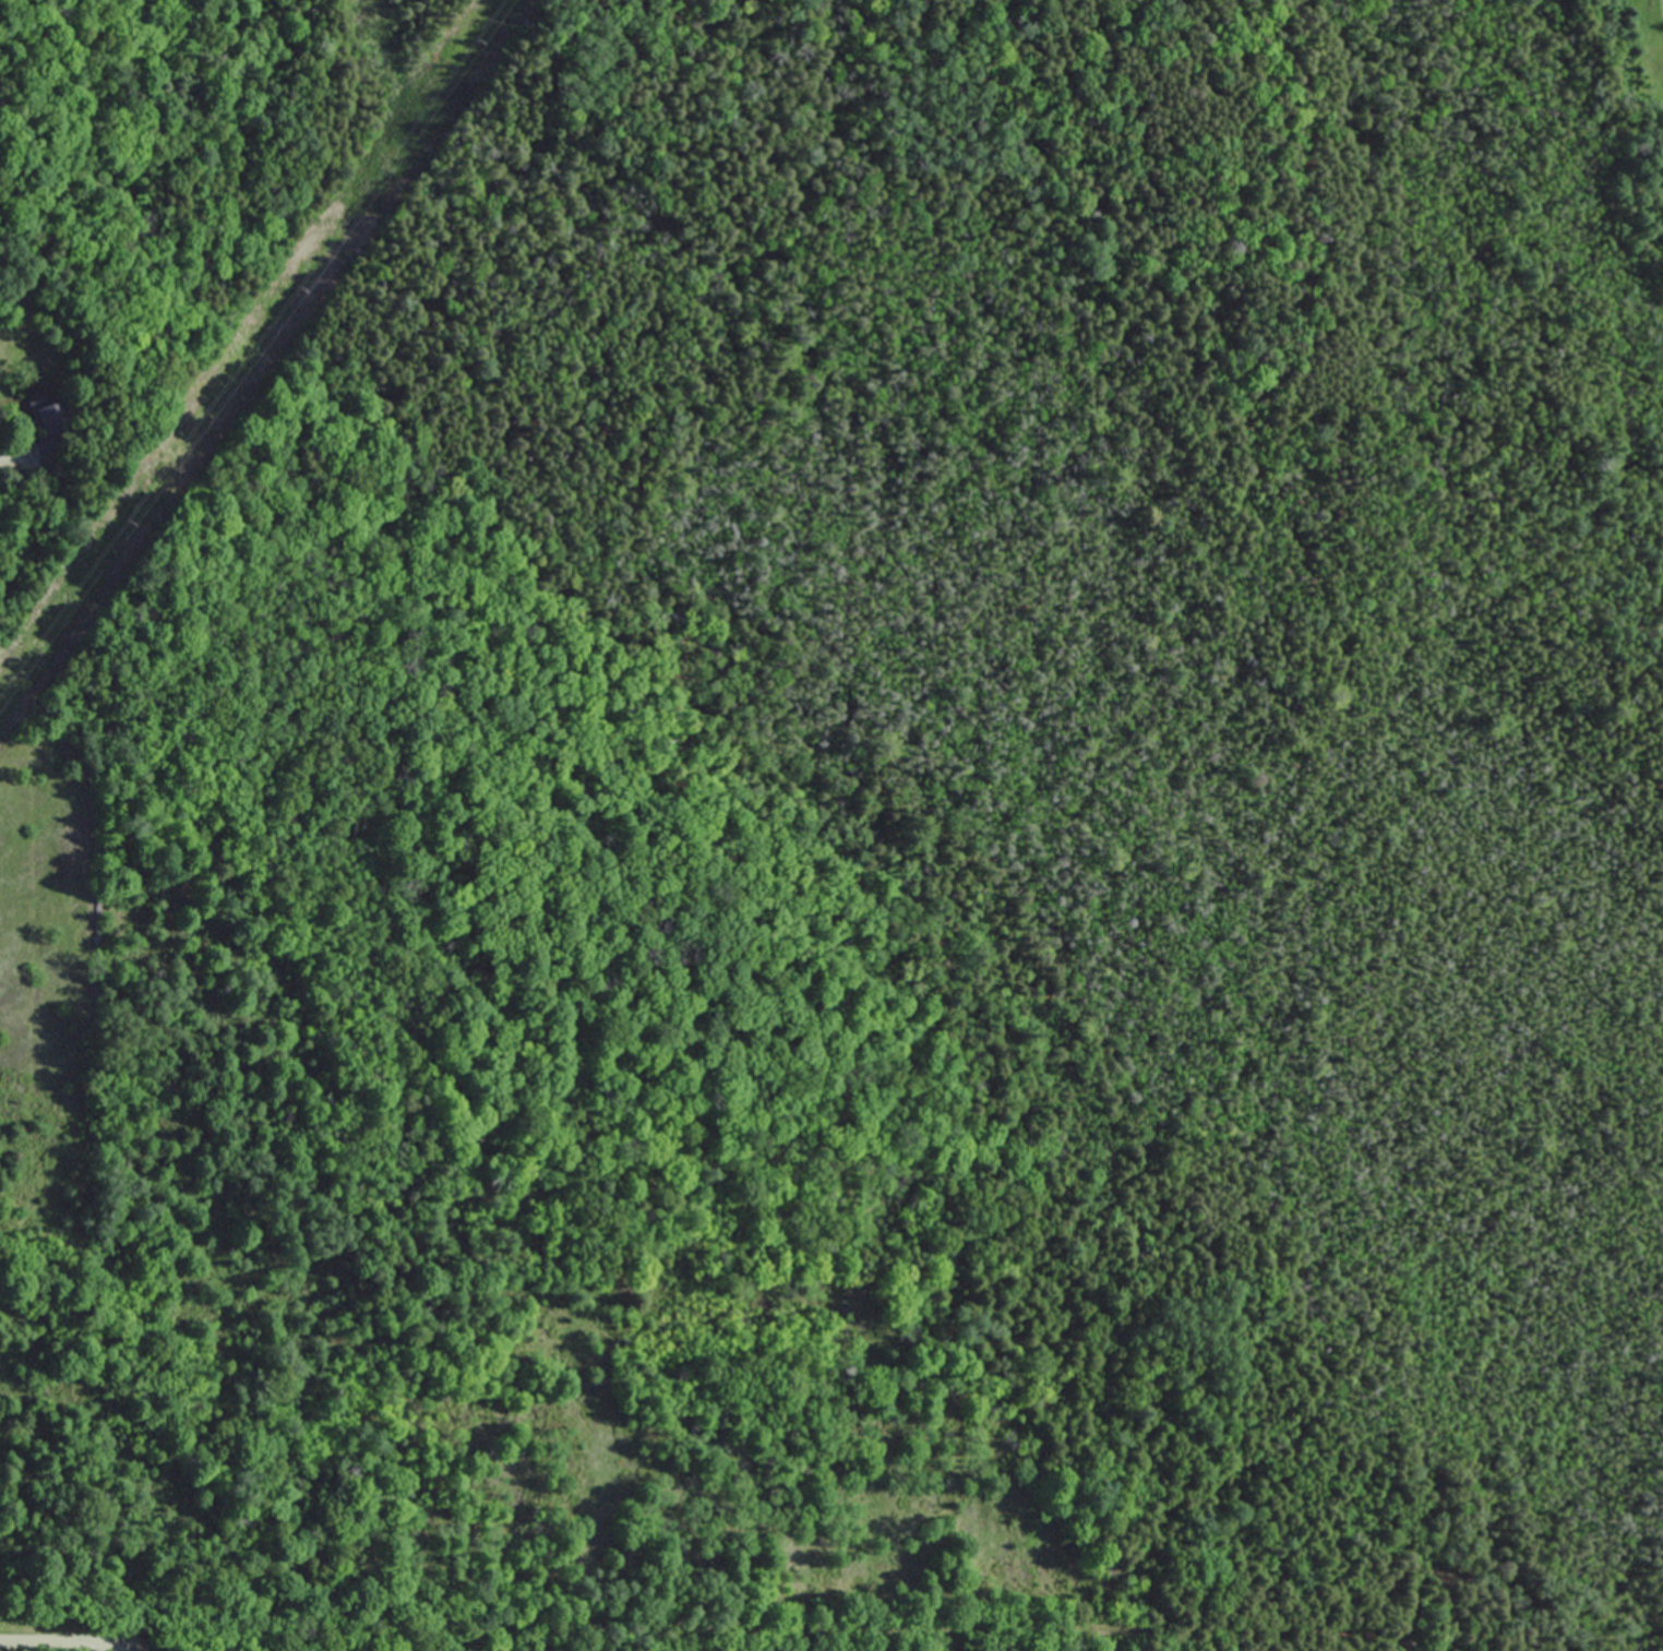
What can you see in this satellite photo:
power tower: (475, 41)
power tower: (286, 288)
building: (46, 424)
road: (5, 459)
power tower: (124, 524)
road: (59, 1635)
road: (119, 1643)

